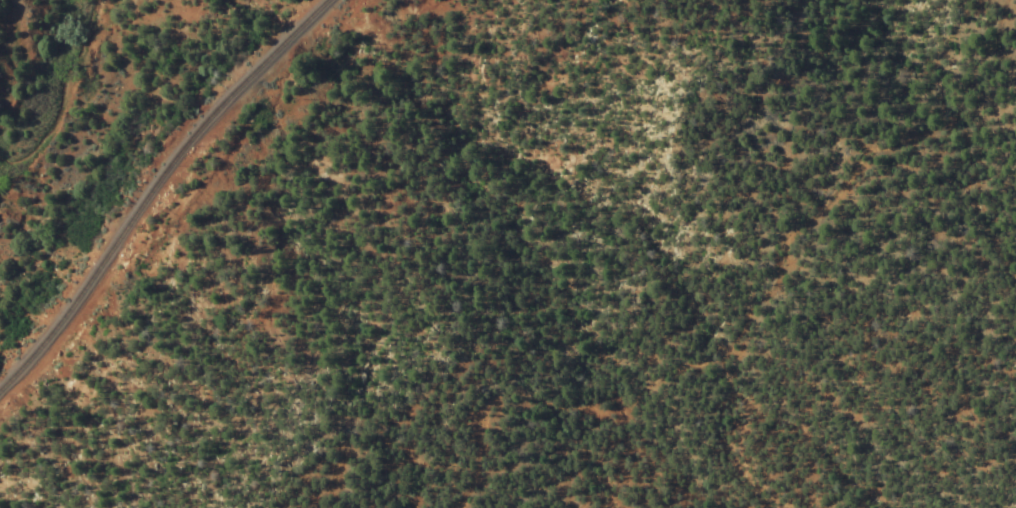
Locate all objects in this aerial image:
railway: (153, 186)

